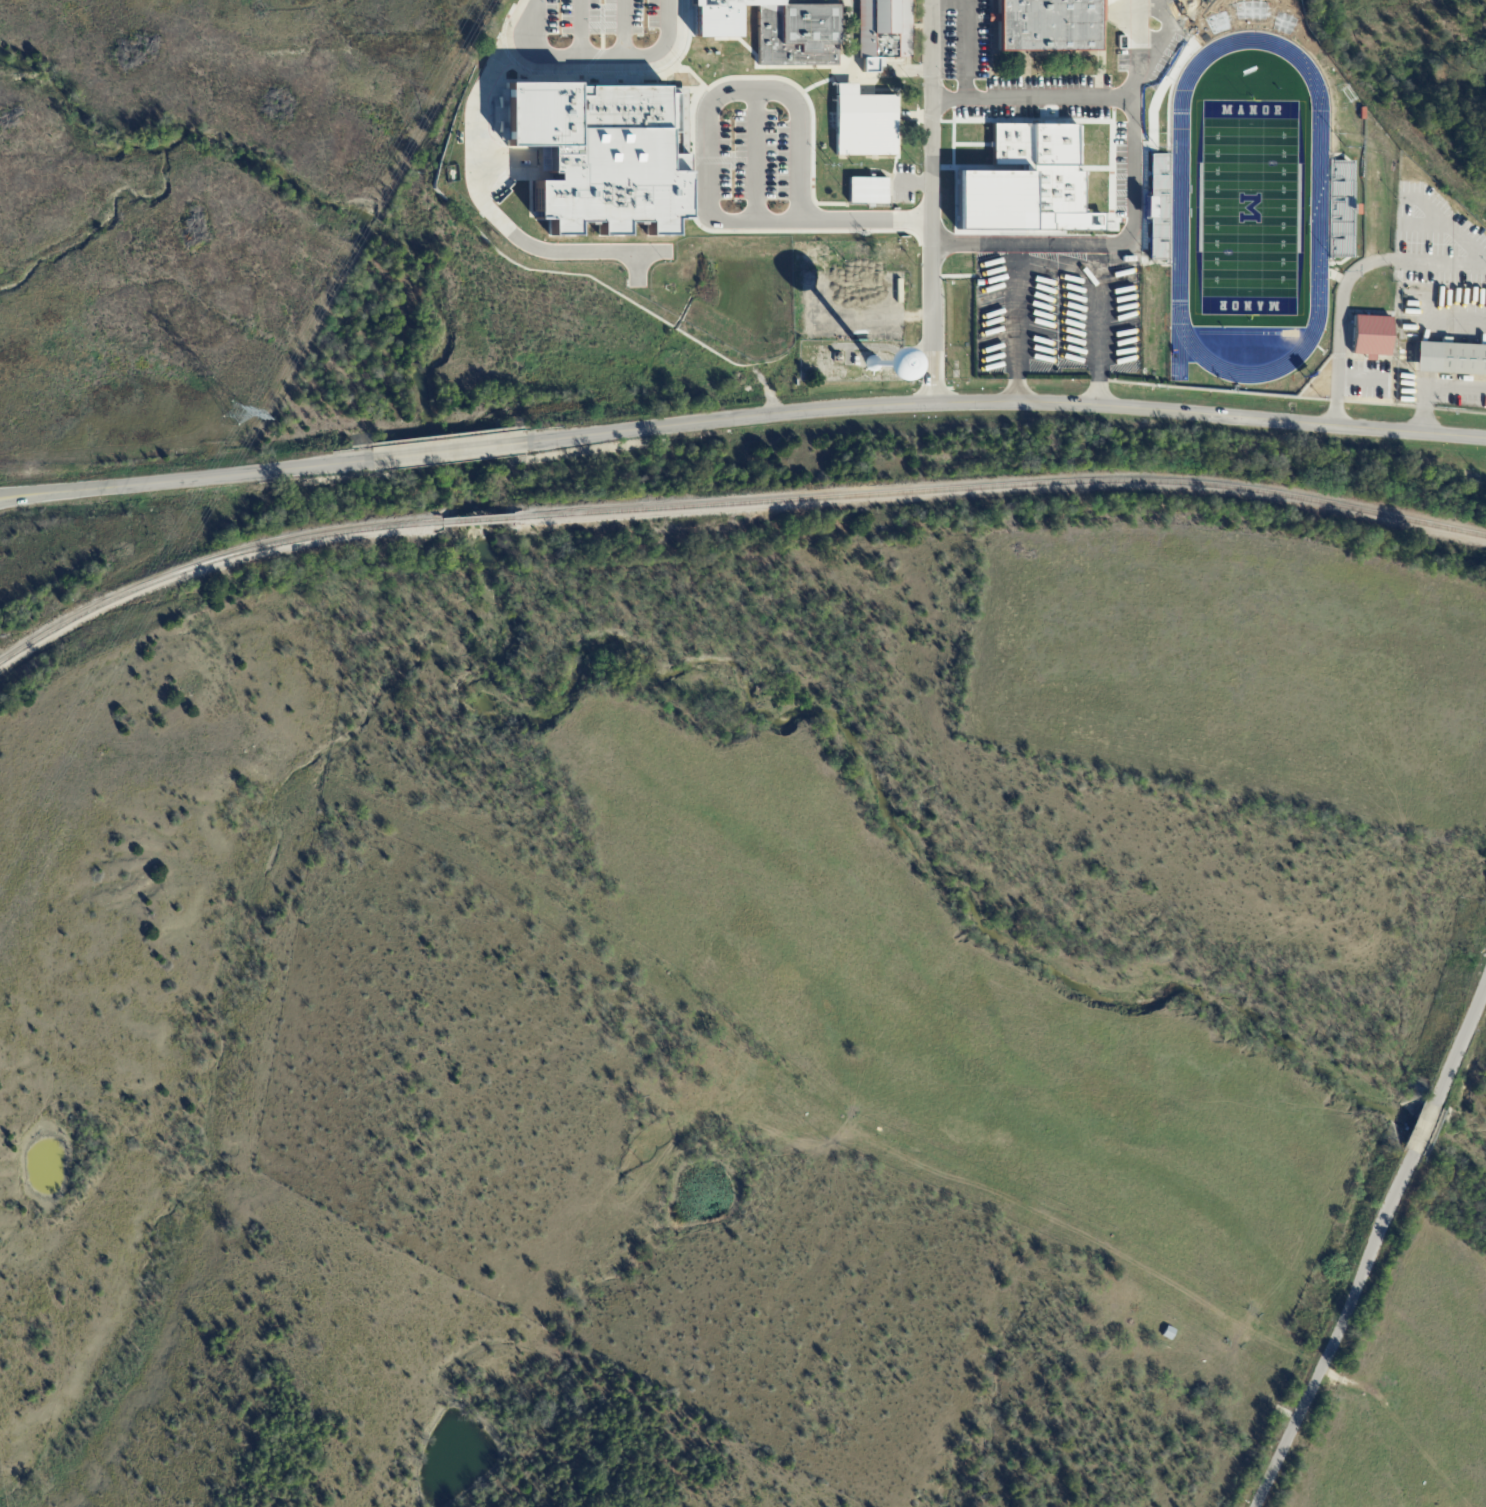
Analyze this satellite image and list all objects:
building: (1195, 16)
building: (734, 19)
road: (579, 28)
road: (621, 28)
building: (1053, 28)
parking lot: (595, 32)
building: (886, 34)
parking lot: (1147, 38)
building: (800, 44)
road: (966, 49)
road: (604, 57)
road: (1077, 96)
building: (1143, 112)
building: (869, 130)
building: (958, 155)
building: (979, 155)
road: (754, 156)
parking lot: (757, 160)
road: (709, 170)
building: (614, 172)
building: (1034, 190)
road: (479, 197)
building: (872, 197)
road: (933, 202)
track: (1251, 206)
park: (1251, 209)
building: (1361, 218)
road: (1109, 247)
road: (1387, 258)
parking lot: (1440, 269)
building: (809, 307)
parking lot: (1058, 318)
road: (1457, 321)
building: (1371, 337)
building: (1450, 359)
water tower: (875, 362)
parking lot: (1413, 388)
road: (1435, 389)
road: (1003, 405)
power tower: (231, 416)
road: (444, 451)
road: (183, 480)
railway: (1001, 484)
railway: (476, 520)
railway: (210, 562)
road: (1460, 1037)
road: (1422, 1125)
road: (1336, 1331)
building: (1168, 1332)

